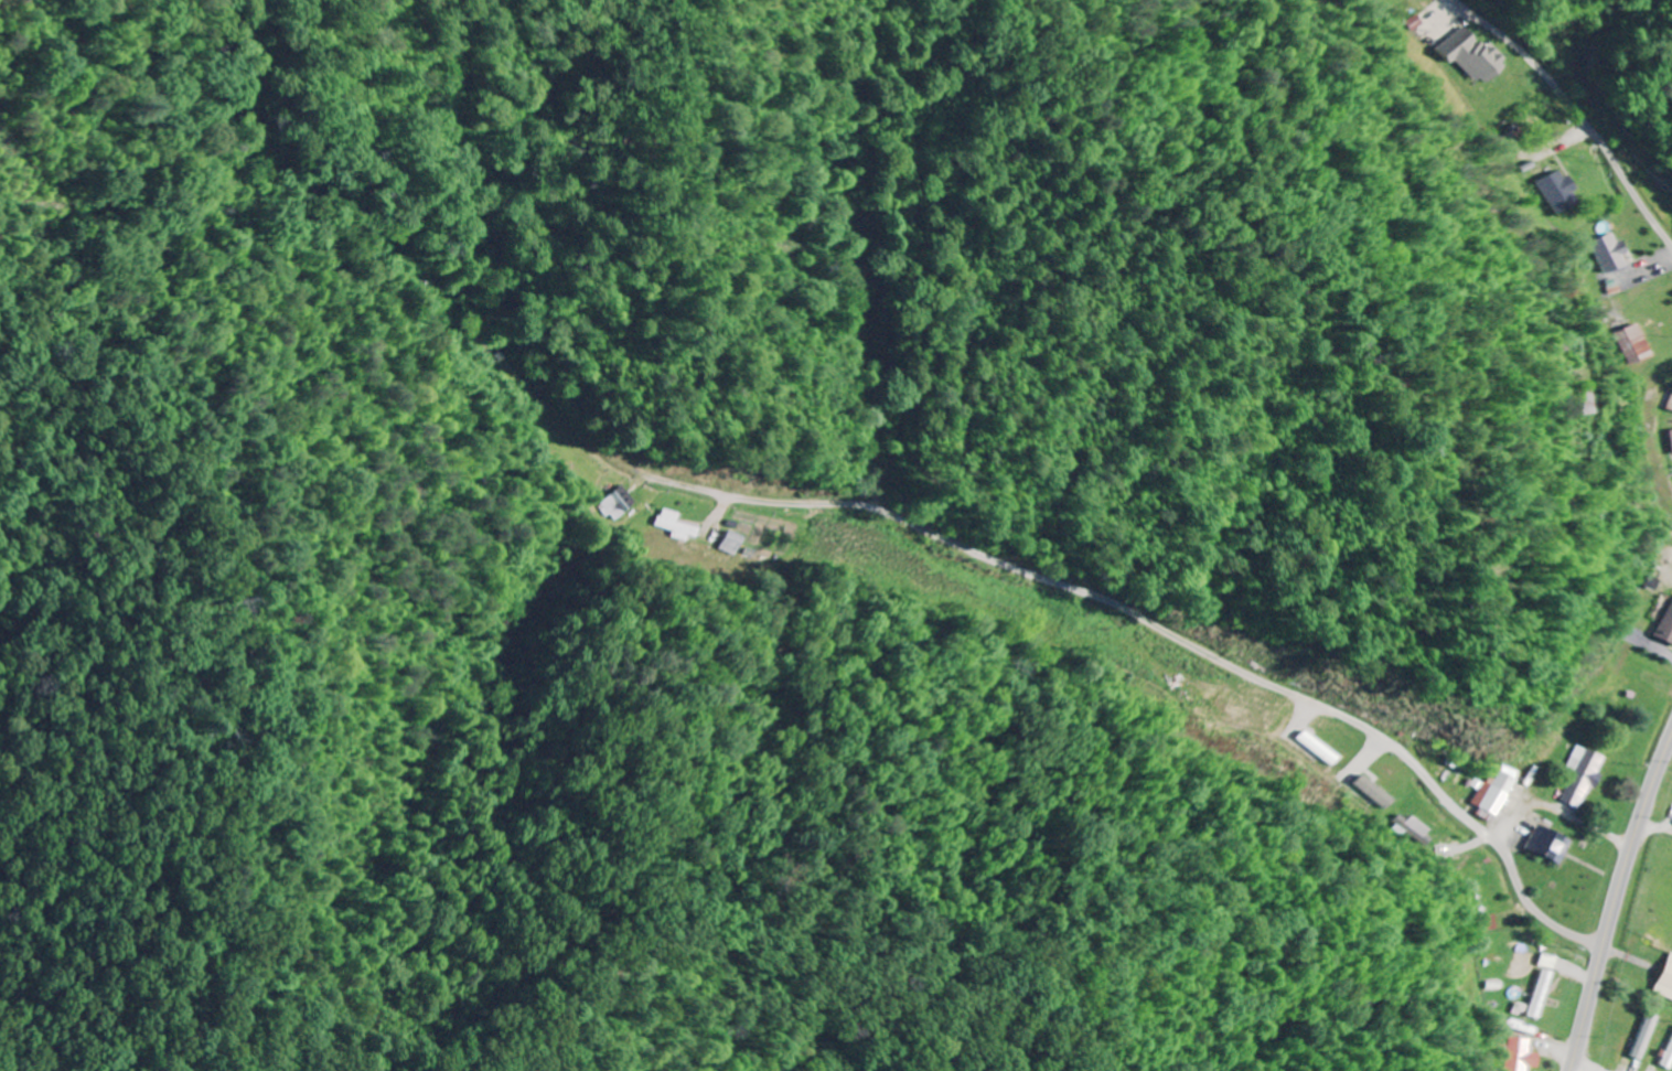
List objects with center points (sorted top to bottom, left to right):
building: (1425, 22)
building: (1480, 56)
road: (1583, 109)
building: (1565, 191)
building: (1616, 253)
building: (1644, 344)
building: (624, 503)
building: (687, 525)
building: (743, 544)
building: (1666, 630)
road: (1213, 653)
building: (1585, 774)
road: (494, 792)
building: (1384, 792)
building: (1499, 792)
building: (1425, 831)
building: (1550, 845)
road: (1618, 906)
building: (1554, 961)
building: (1666, 981)
building: (1548, 994)
building: (1647, 1036)
building: (1533, 1054)
building: (1669, 1059)
road: (1590, 1067)

